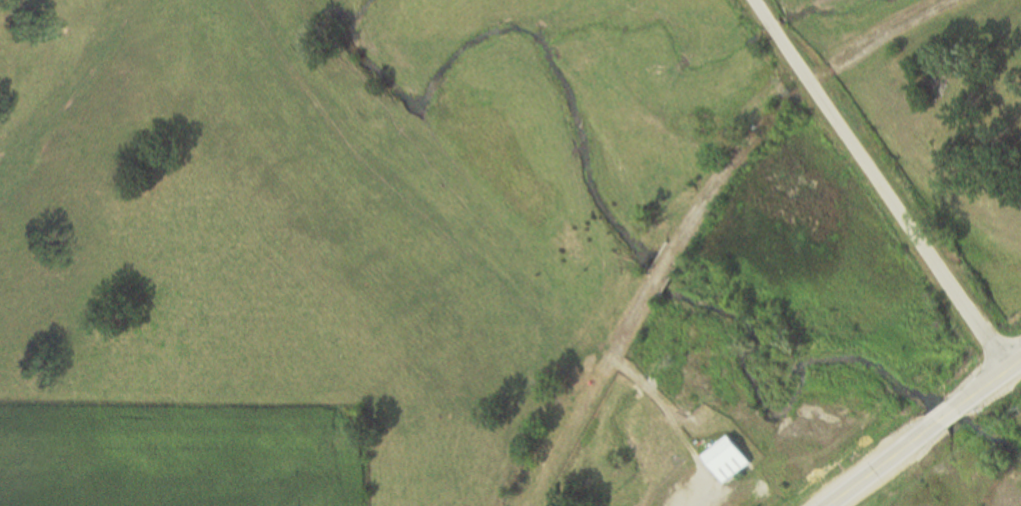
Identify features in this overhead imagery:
road: (789, 99)
road: (878, 185)
road: (663, 268)
road: (988, 383)
road: (590, 395)
road: (943, 418)
road: (674, 424)
building: (724, 461)
road: (879, 467)

